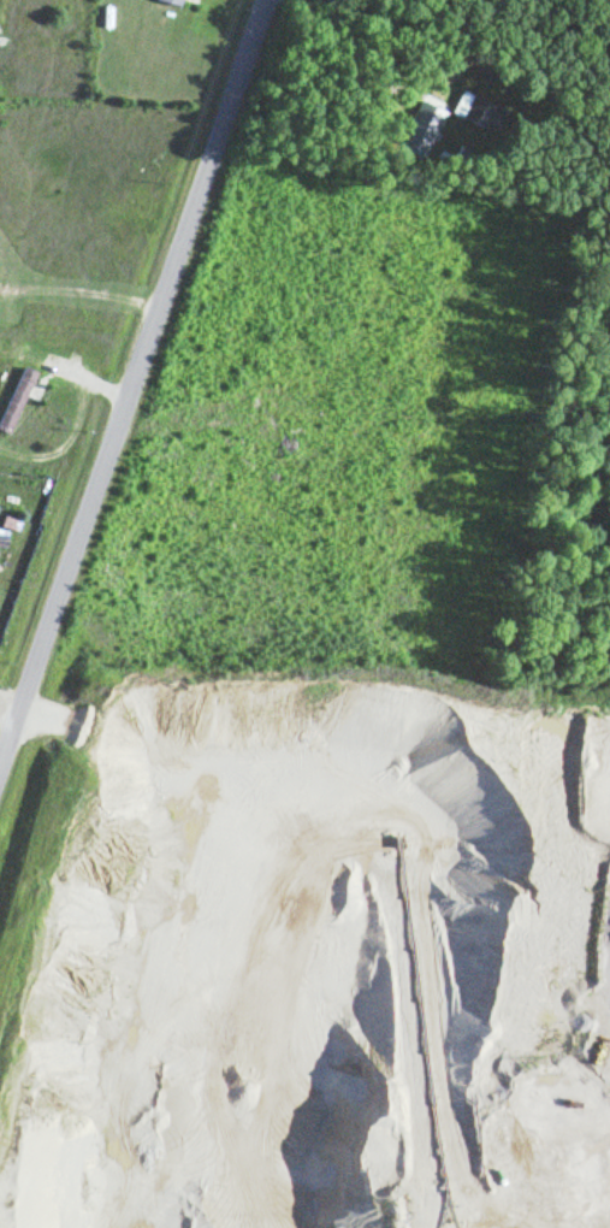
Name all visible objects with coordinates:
building: (178, 1)
road: (129, 366)
building: (17, 397)
quarry: (308, 947)
road: (41, 1163)

